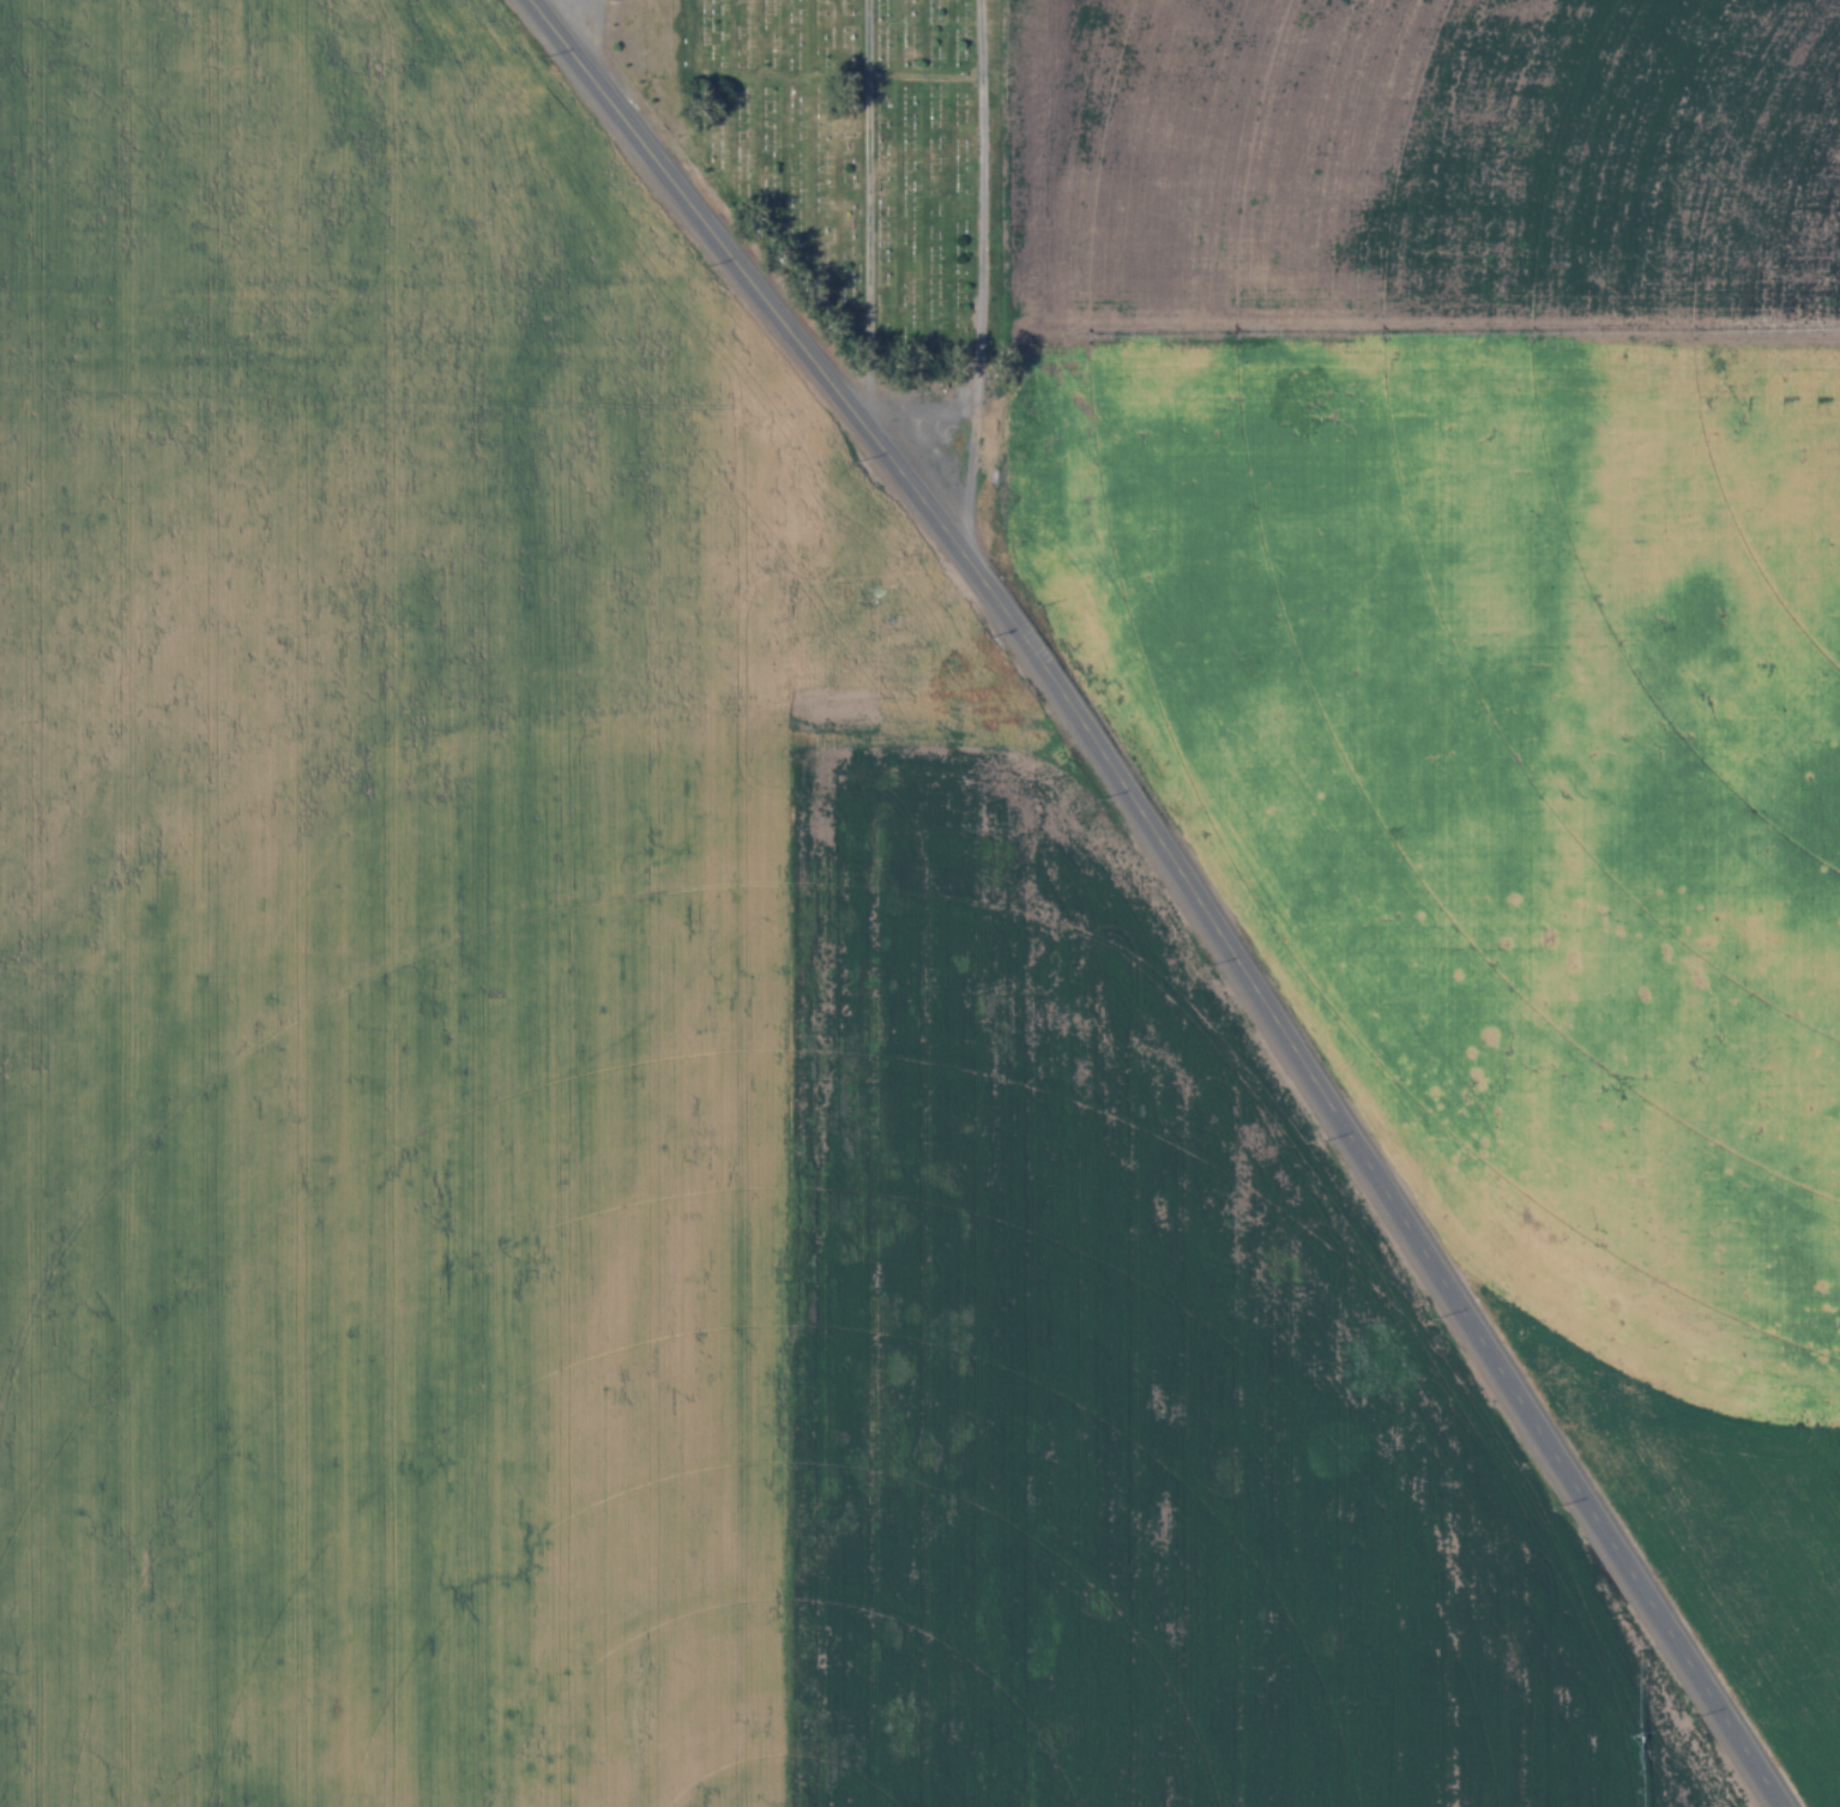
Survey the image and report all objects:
park: (849, 161)
road: (1026, 320)
road: (1187, 884)

